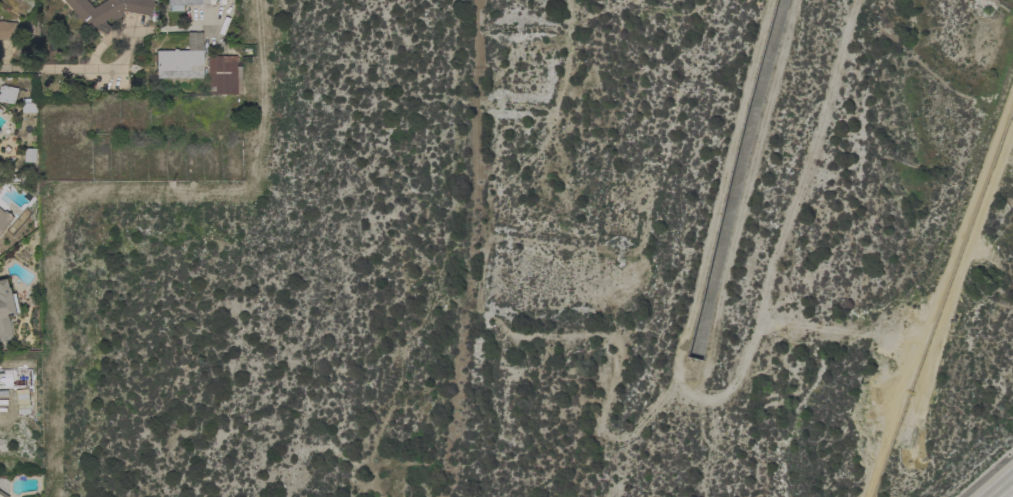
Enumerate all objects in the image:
building: (183, 4)
building: (107, 11)
road: (208, 23)
building: (7, 31)
building: (181, 60)
road: (51, 69)
building: (222, 75)
building: (7, 94)
building: (28, 107)
building: (29, 155)
building: (4, 219)
building: (6, 310)
quarry: (961, 326)
building: (15, 378)
road: (1004, 490)
building: (2, 495)

